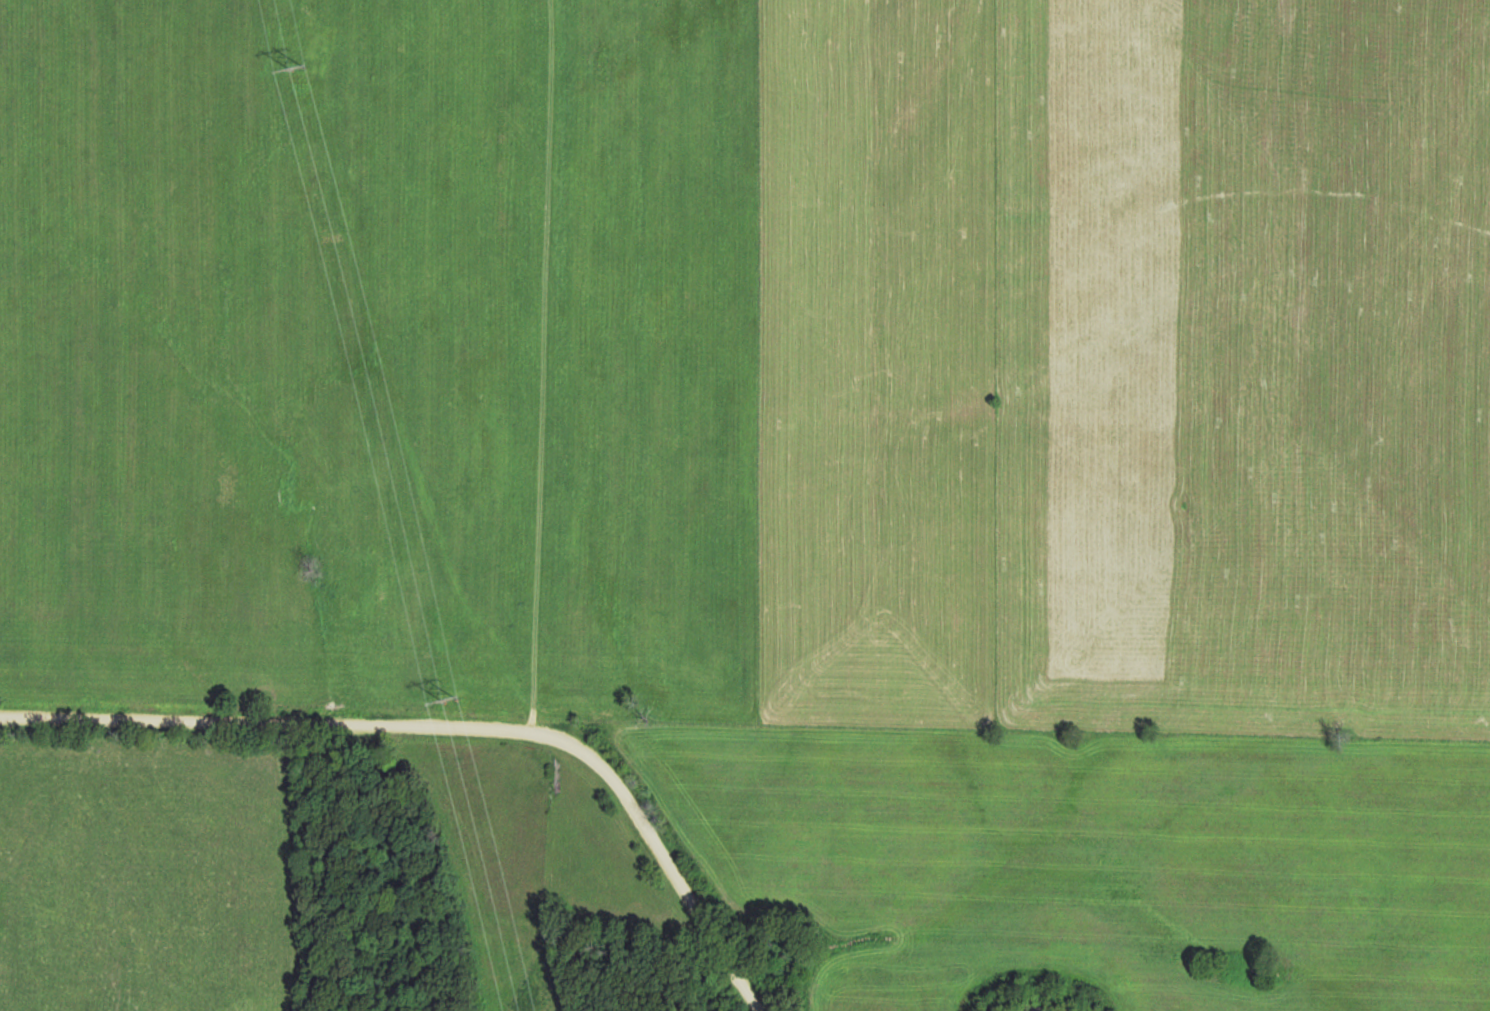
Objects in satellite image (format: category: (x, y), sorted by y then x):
power tower: (299, 71)
power tower: (451, 695)
road: (453, 721)

